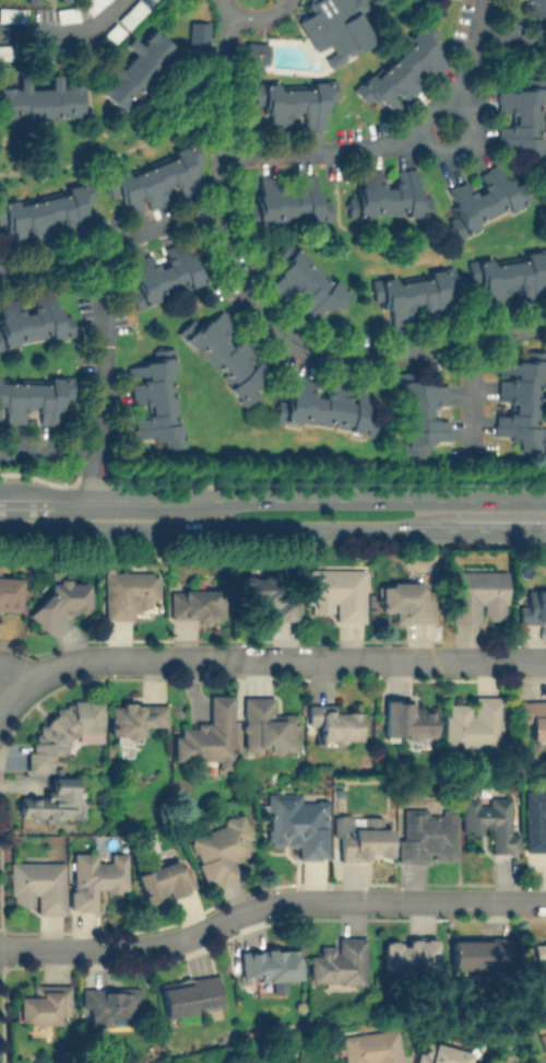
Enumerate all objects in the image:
building: (29, 1)
building: (91, 4)
building: (538, 9)
building: (66, 13)
building: (131, 13)
building: (13, 14)
road: (254, 15)
building: (335, 26)
road: (66, 33)
building: (109, 35)
road: (503, 42)
building: (3, 51)
building: (254, 51)
road: (467, 51)
building: (139, 68)
building: (401, 75)
building: (40, 100)
building: (294, 104)
road: (466, 115)
building: (520, 119)
road: (320, 150)
building: (155, 179)
building: (387, 195)
building: (480, 197)
building: (288, 199)
building: (45, 213)
road: (110, 241)
building: (164, 272)
building: (509, 277)
building: (306, 287)
building: (415, 295)
road: (253, 311)
building: (33, 319)
building: (227, 354)
road: (102, 372)
building: (34, 398)
building: (154, 398)
building: (522, 398)
building: (324, 404)
building: (424, 413)
road: (46, 448)
road: (272, 499)
road: (273, 527)
building: (128, 591)
building: (336, 592)
building: (8, 593)
building: (477, 595)
building: (270, 597)
building: (406, 600)
building: (58, 601)
building: (198, 603)
building: (533, 606)
road: (274, 659)
road: (4, 697)
building: (533, 716)
building: (134, 717)
building: (410, 720)
building: (333, 722)
building: (473, 722)
building: (265, 726)
building: (63, 731)
building: (207, 735)
building: (54, 801)
building: (489, 820)
building: (535, 820)
building: (298, 825)
building: (427, 832)
building: (361, 838)
building: (221, 849)
building: (94, 876)
building: (164, 879)
building: (37, 885)
road: (269, 902)
building: (408, 953)
building: (478, 954)
building: (337, 962)
building: (269, 965)
building: (542, 965)
building: (188, 994)
building: (41, 1003)
building: (110, 1004)
building: (542, 1040)
building: (371, 1047)
building: (439, 1053)

